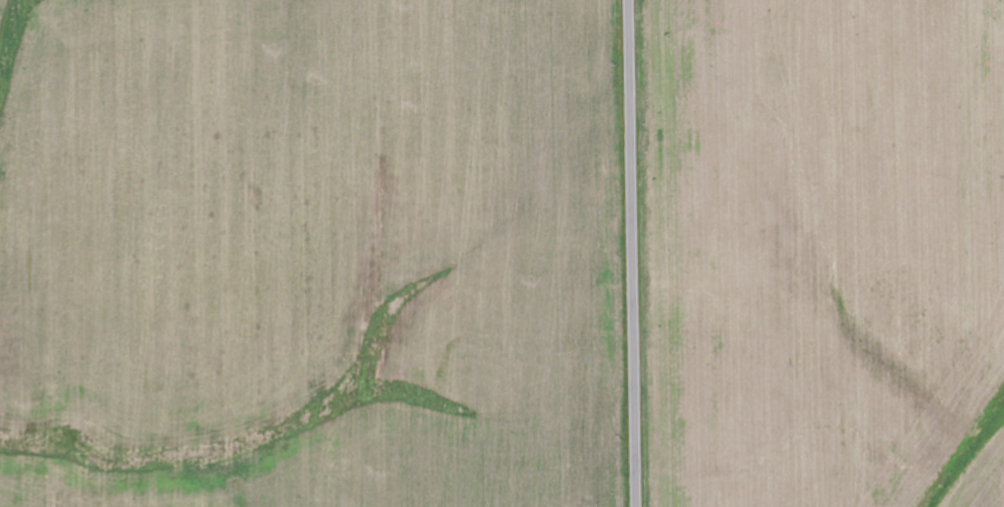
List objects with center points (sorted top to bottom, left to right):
road: (634, 253)

